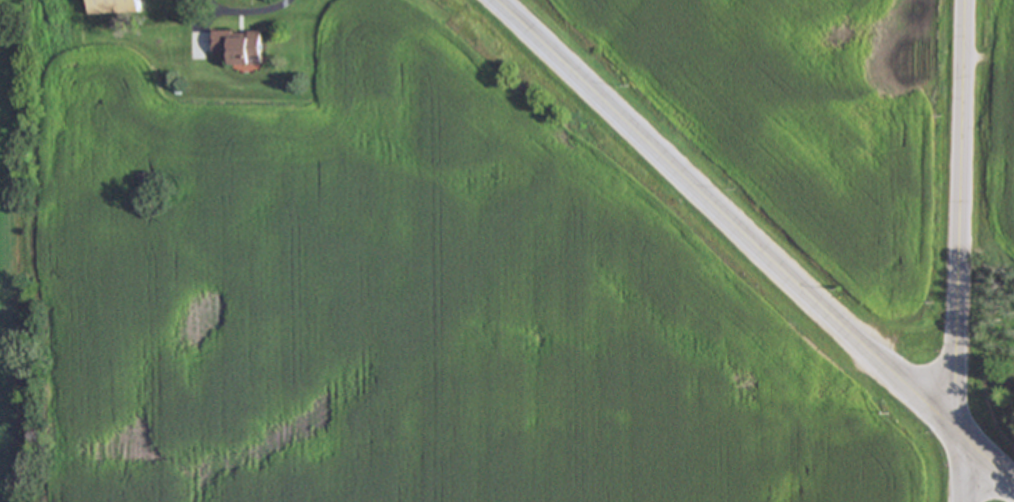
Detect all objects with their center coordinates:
road: (242, 11)
building: (239, 45)
road: (958, 216)
road: (752, 240)
road: (961, 466)

